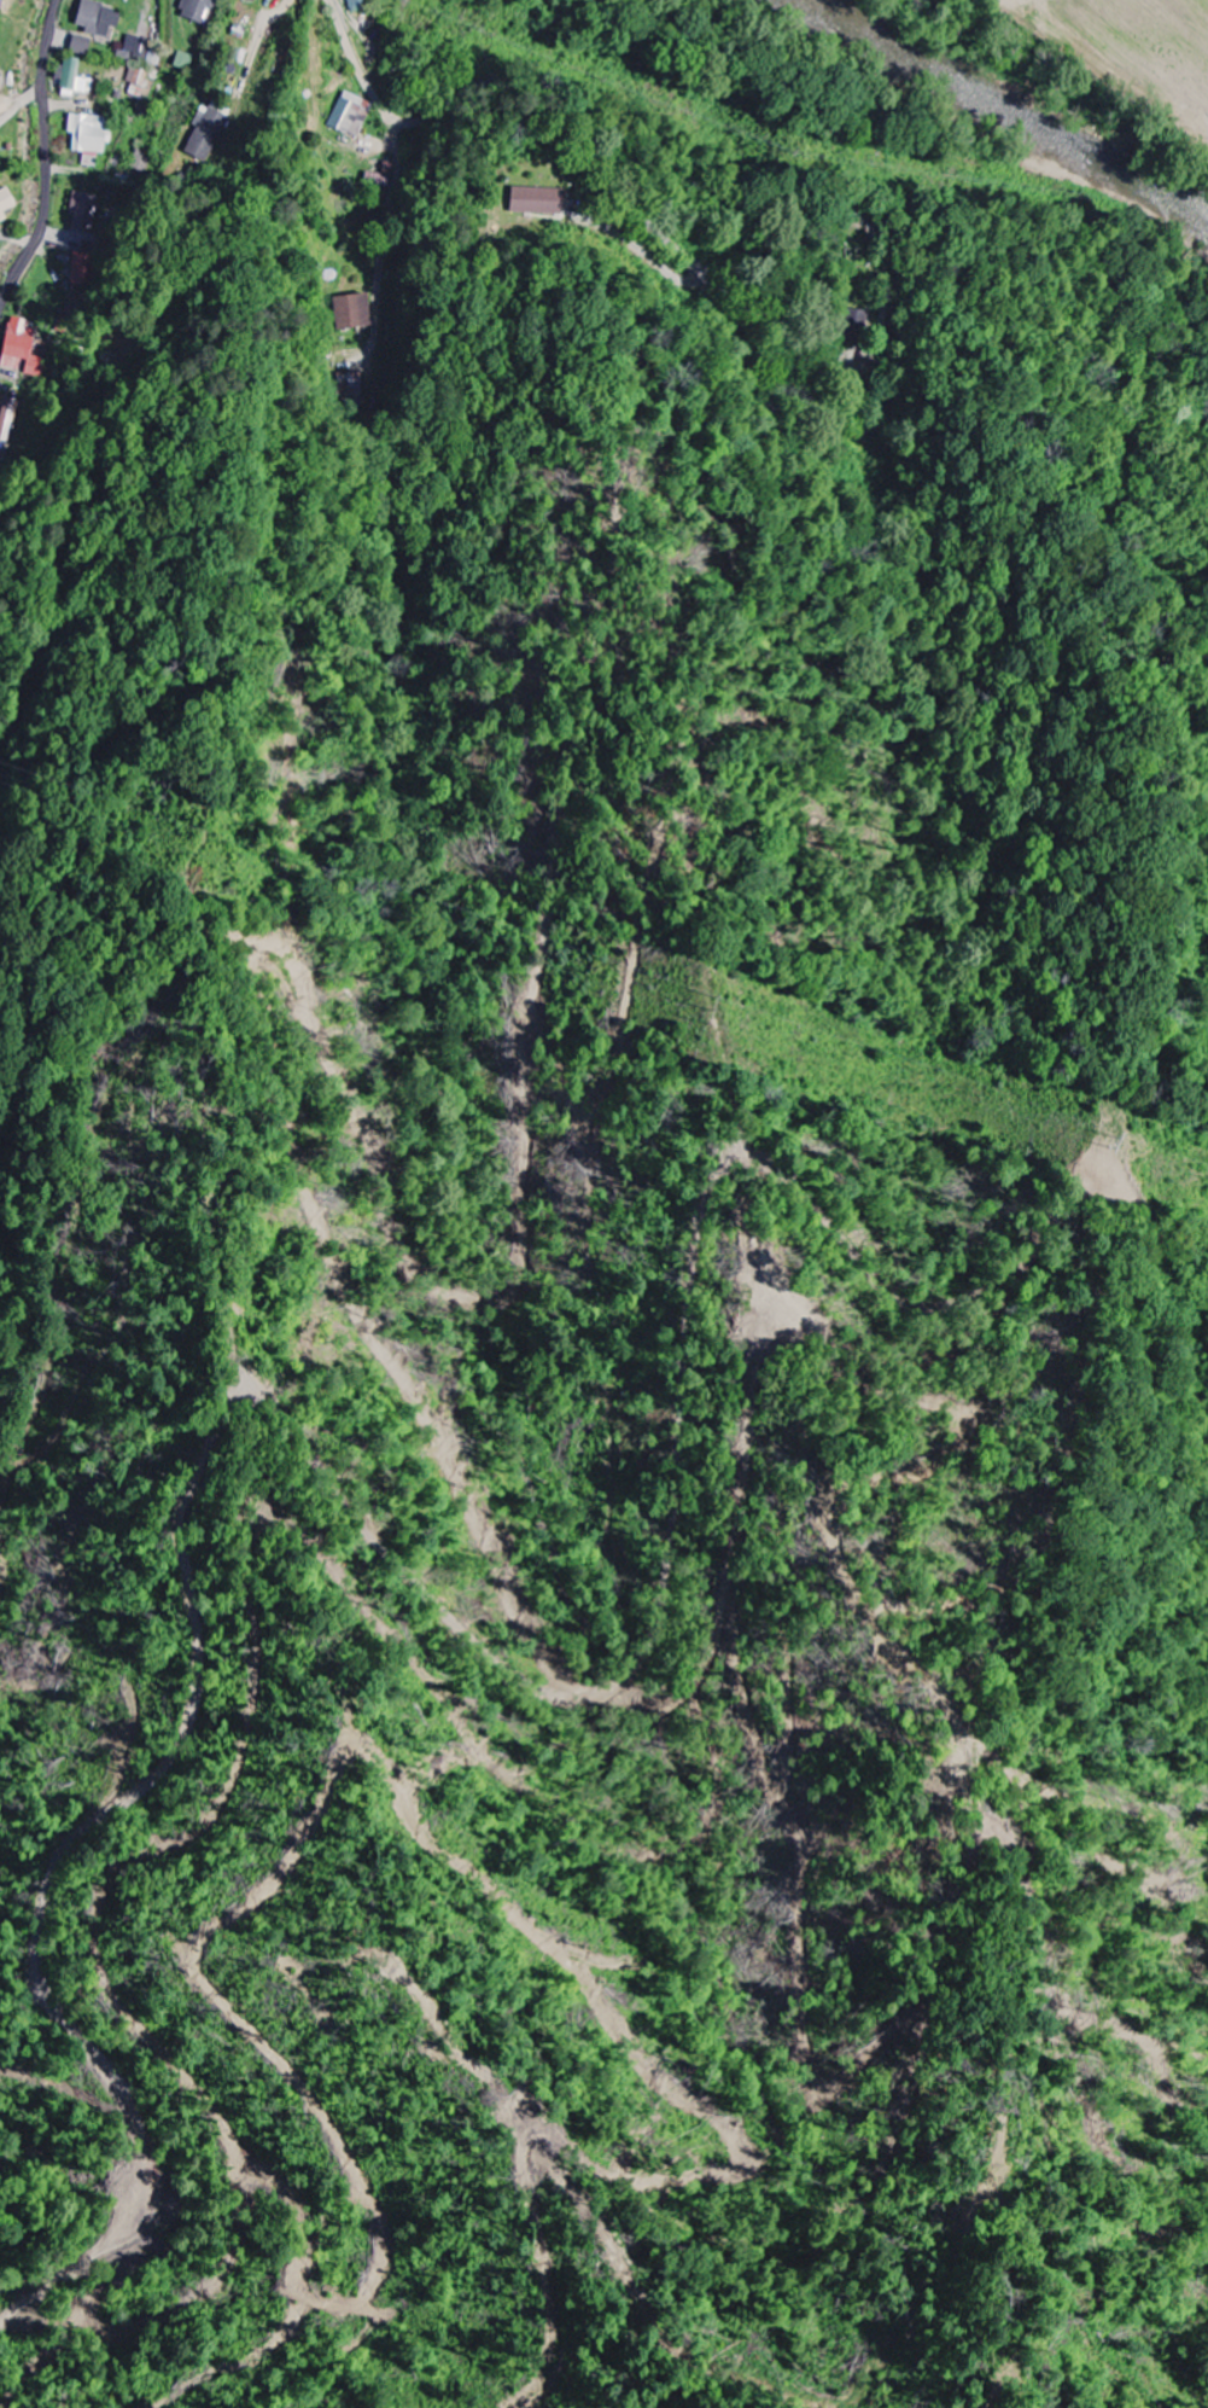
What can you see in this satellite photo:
building: (356, 5)
building: (196, 10)
building: (97, 19)
building: (78, 43)
building: (138, 50)
building: (183, 60)
building: (72, 77)
building: (140, 82)
river: (1011, 98)
building: (2, 105)
building: (351, 114)
building: (87, 132)
building: (205, 133)
building: (142, 159)
road: (47, 164)
building: (378, 179)
building: (536, 199)
building: (5, 202)
building: (83, 208)
road: (17, 240)
building: (87, 268)
road: (748, 307)
building: (352, 309)
building: (857, 319)
building: (22, 349)
building: (351, 383)
building: (6, 418)
power tower: (1116, 1142)

